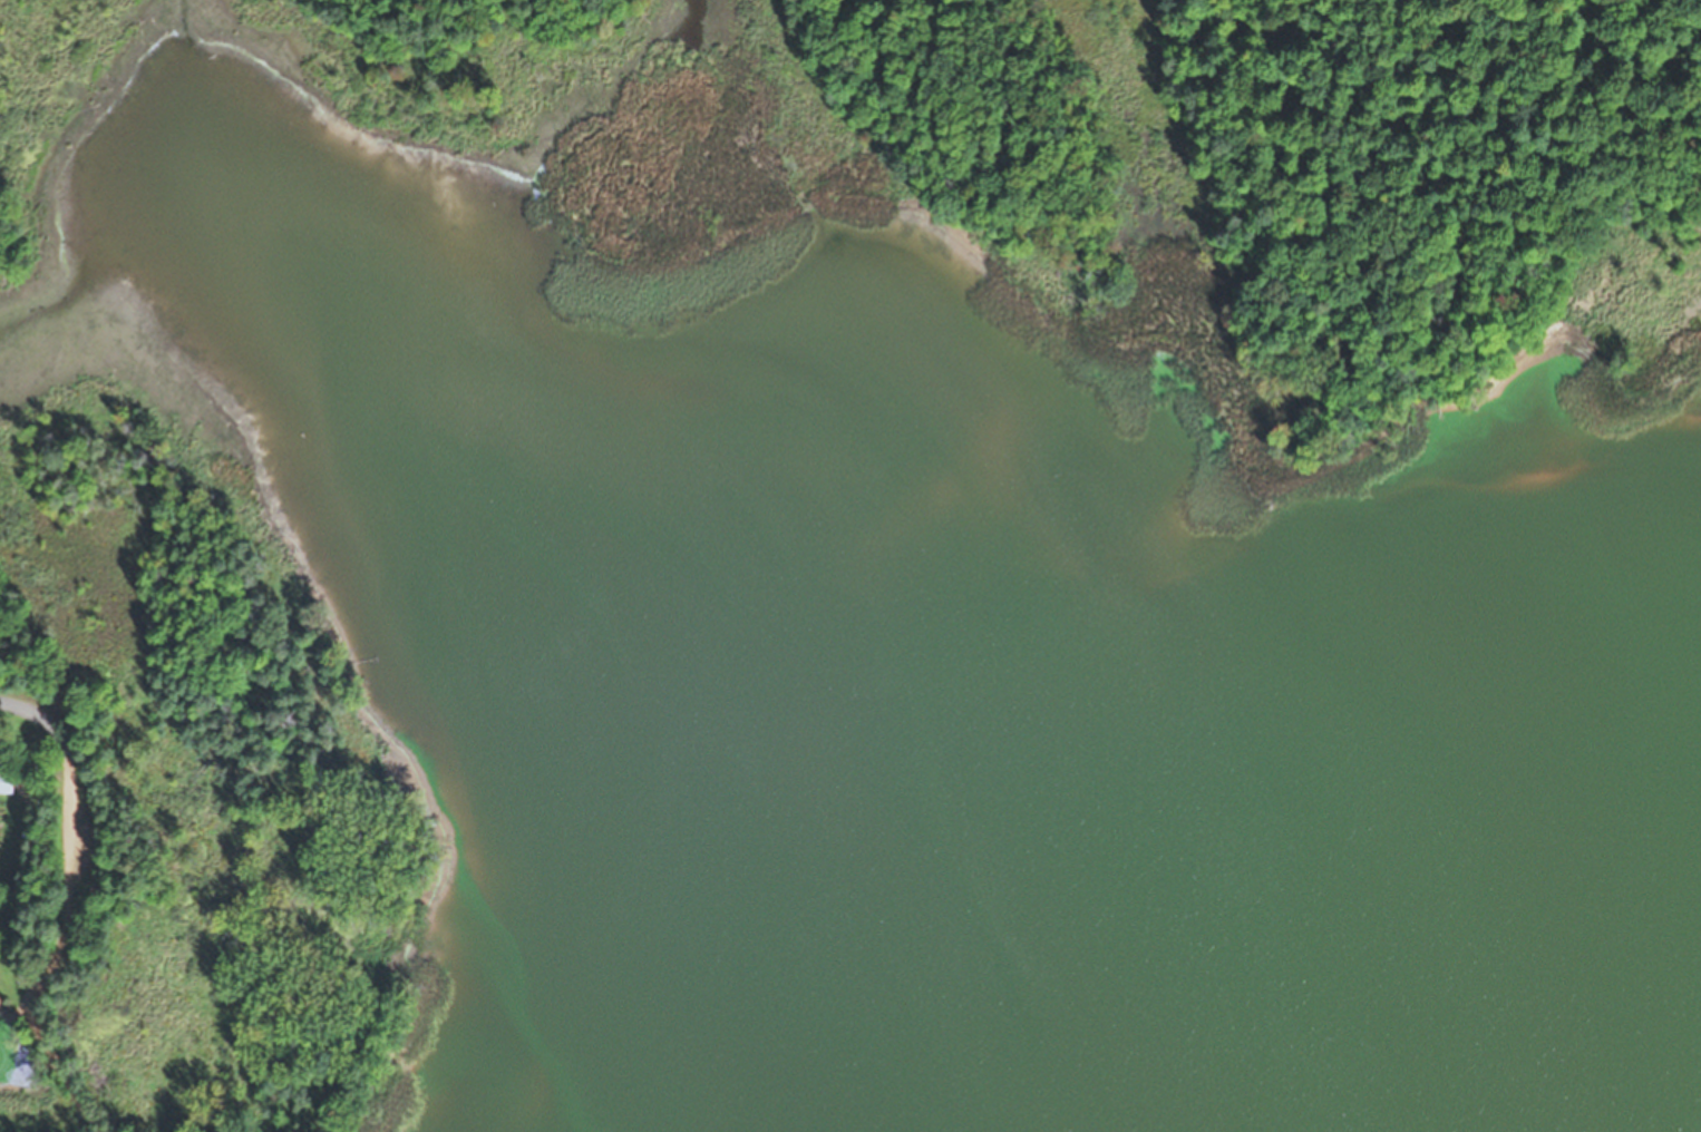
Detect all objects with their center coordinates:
road: (3, 702)
building: (7, 782)

